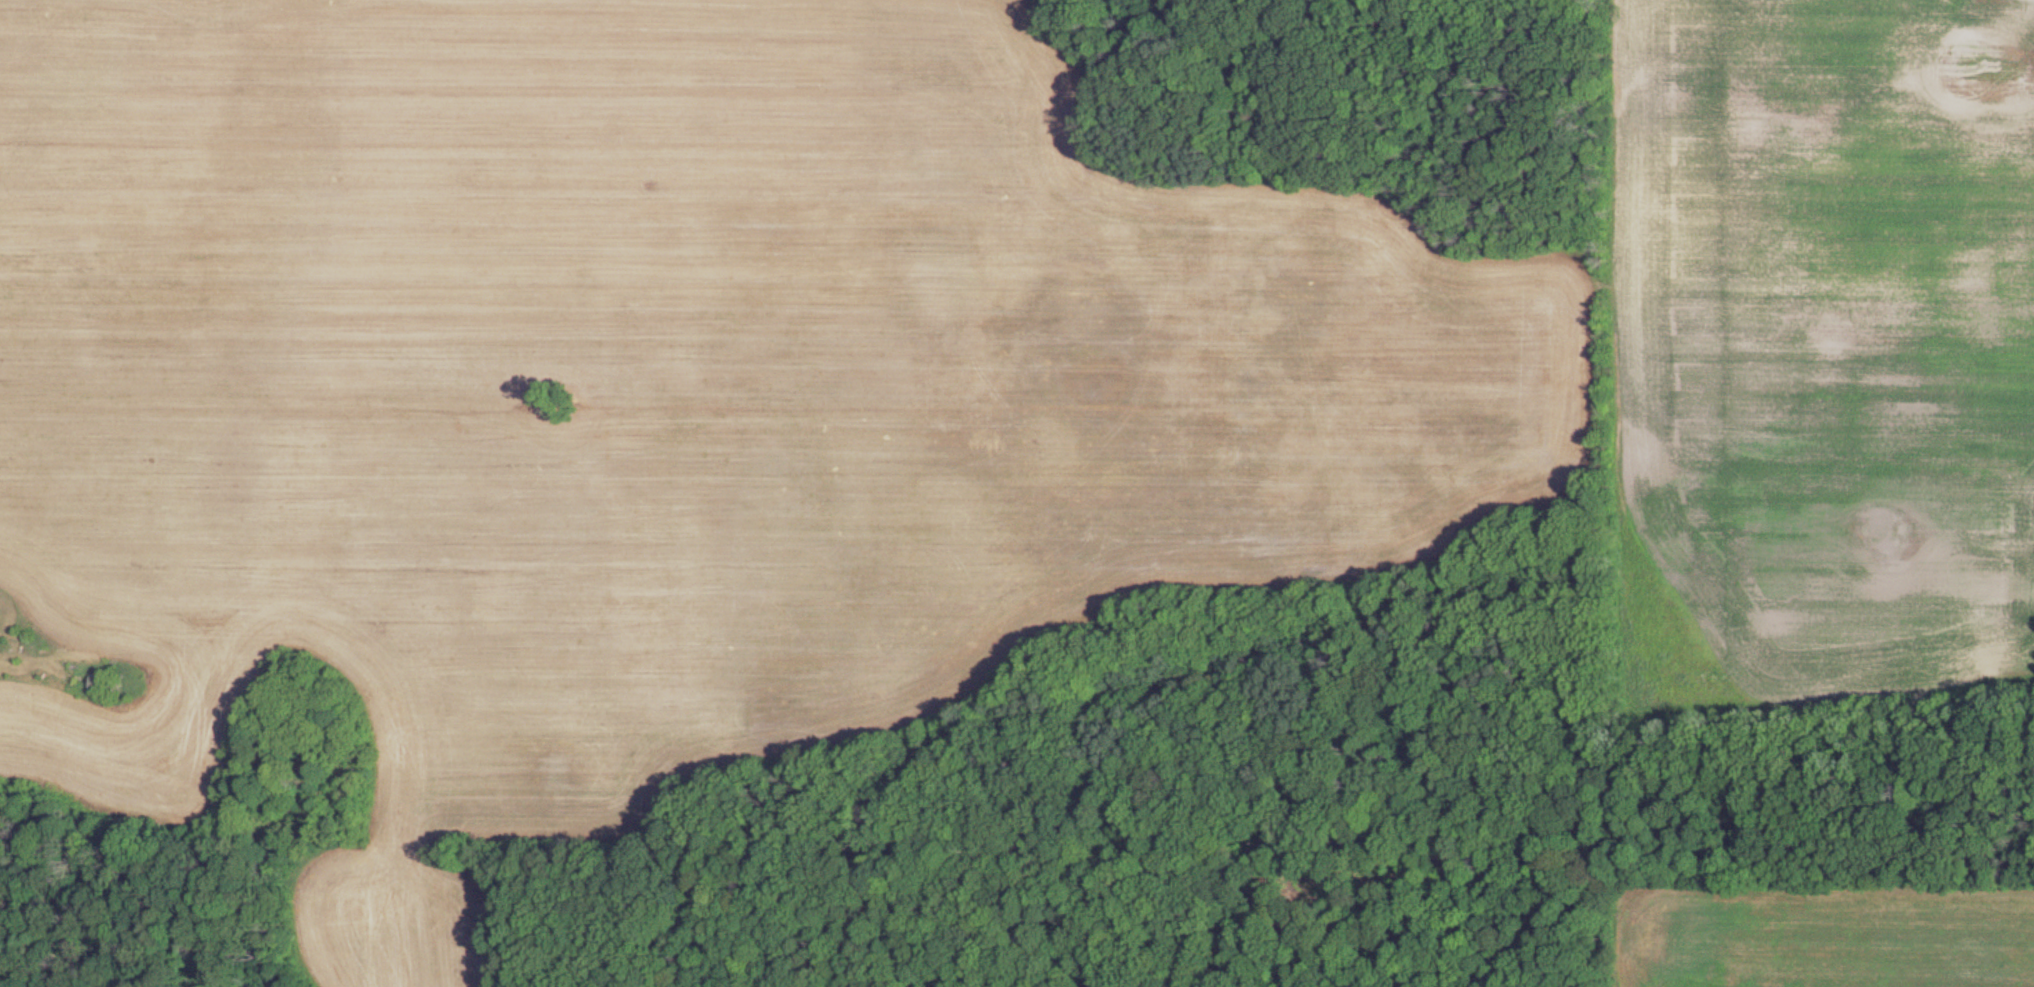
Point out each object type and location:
building: (107, 687)

